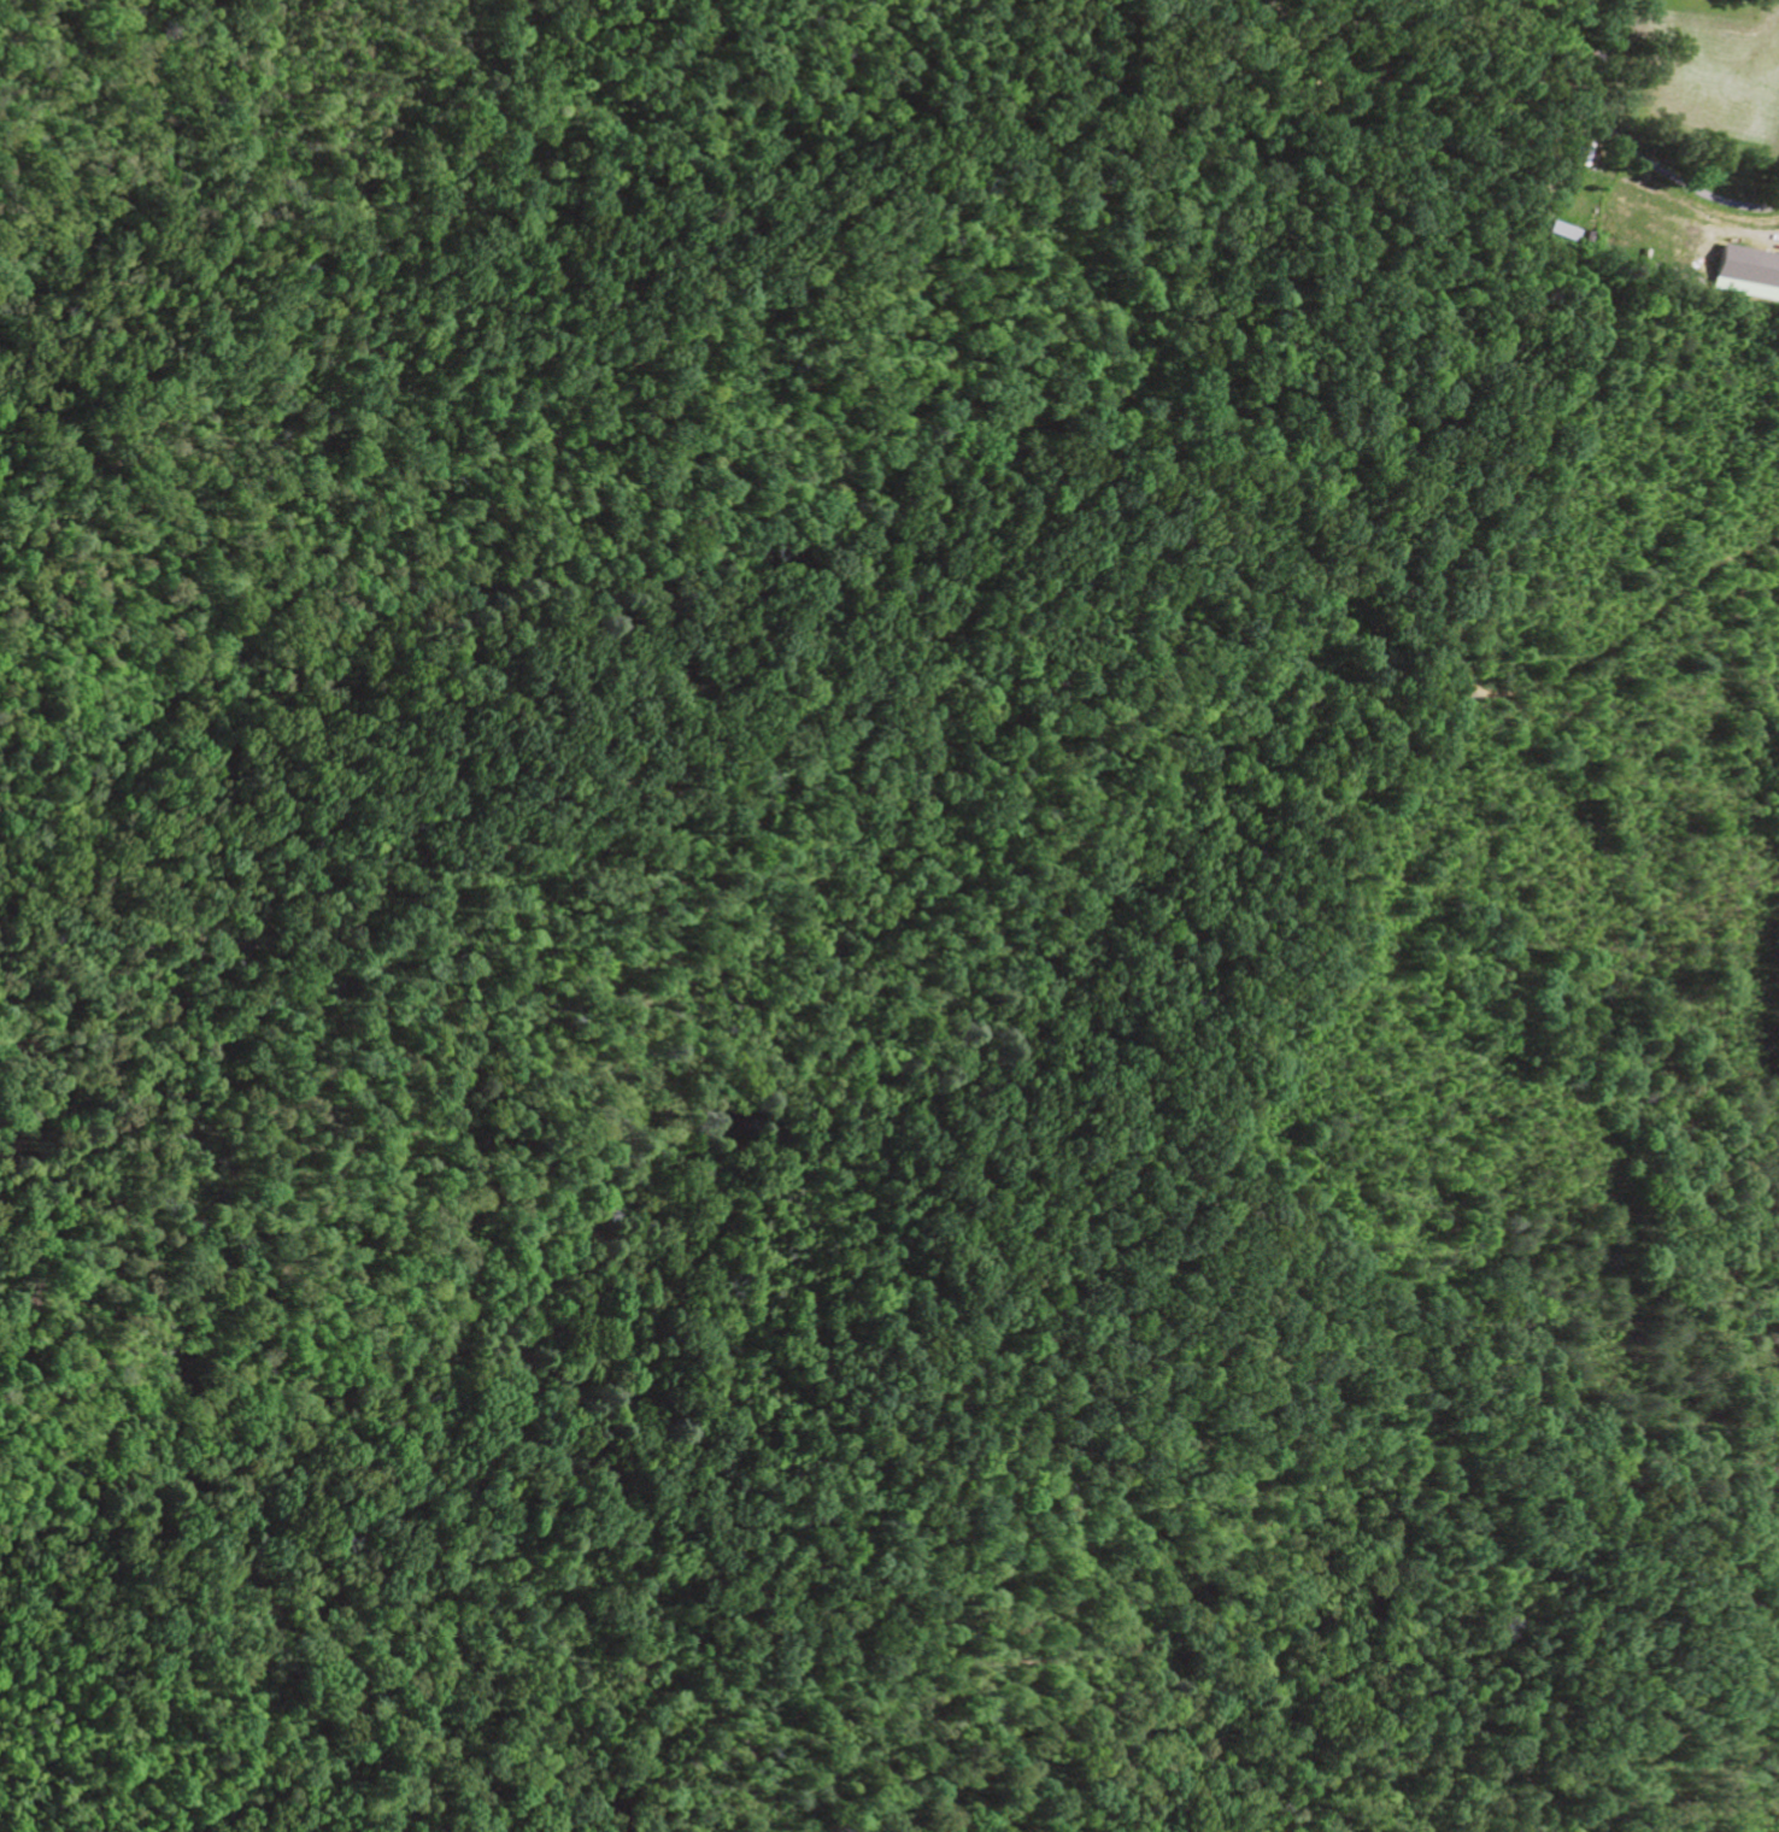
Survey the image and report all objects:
road: (1628, 148)
building: (1744, 268)

